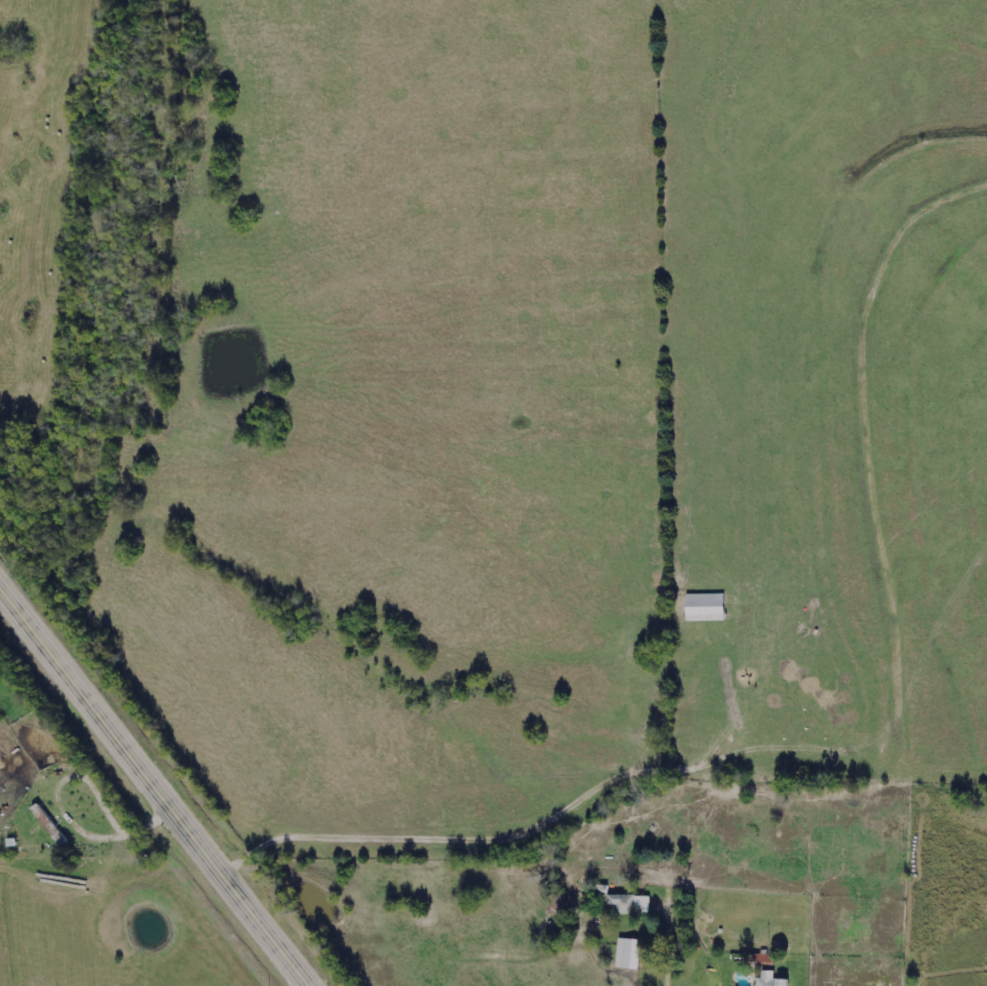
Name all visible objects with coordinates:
building: (705, 608)
railway: (167, 771)
road: (155, 786)
road: (537, 819)
building: (50, 826)
road: (667, 892)
building: (626, 904)
building: (631, 953)
road: (752, 975)
building: (774, 981)

